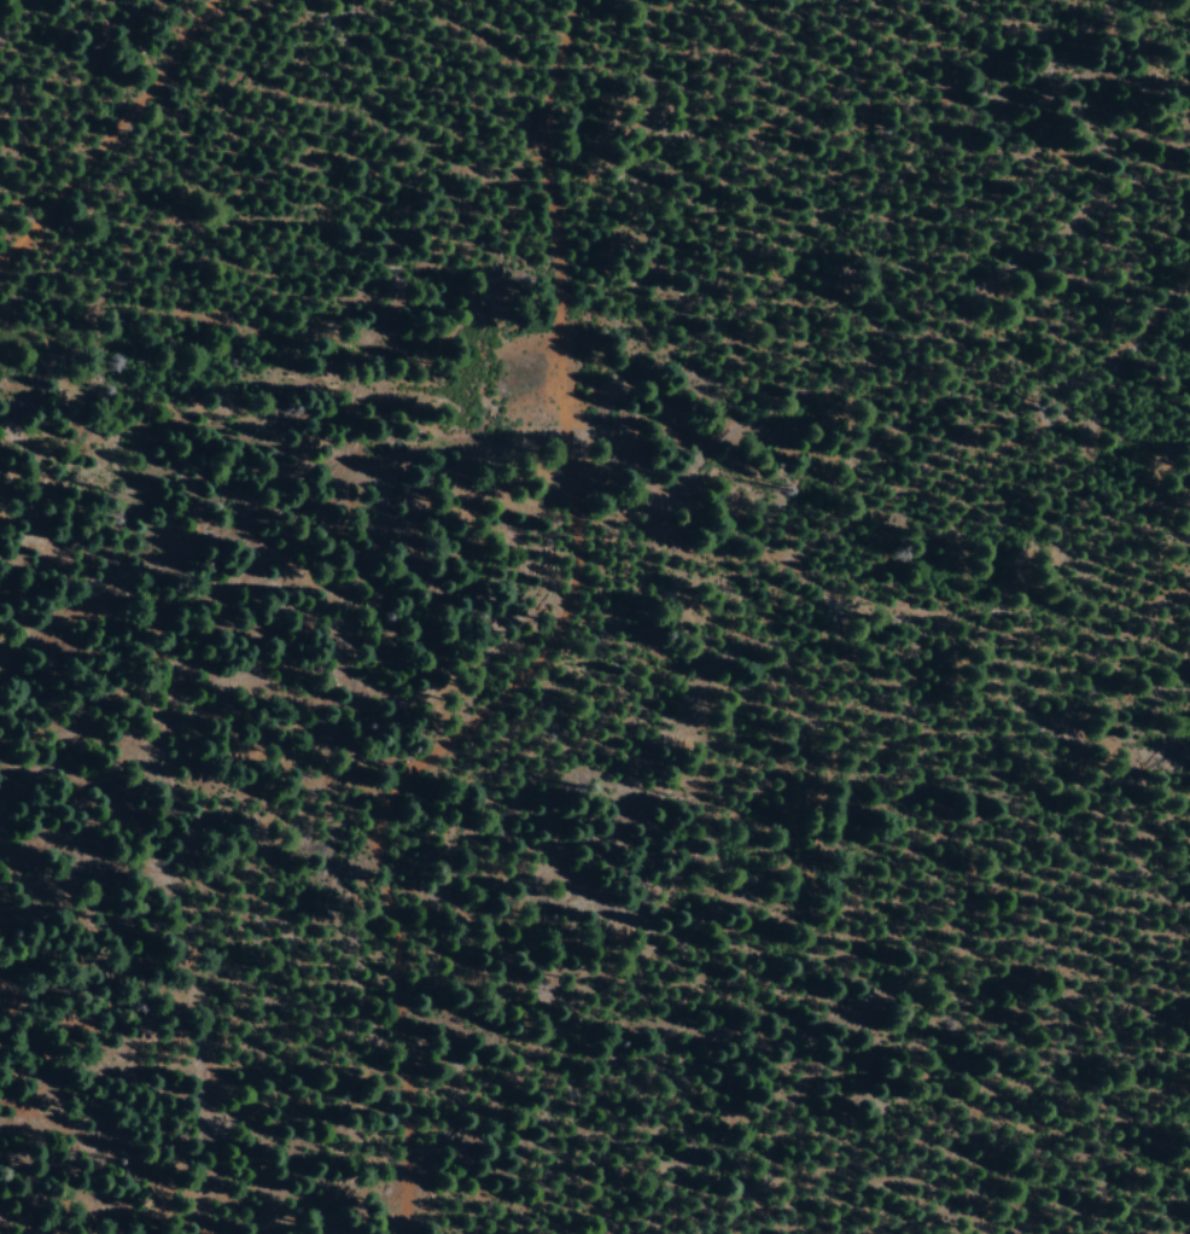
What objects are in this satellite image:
road: (113, 133)

